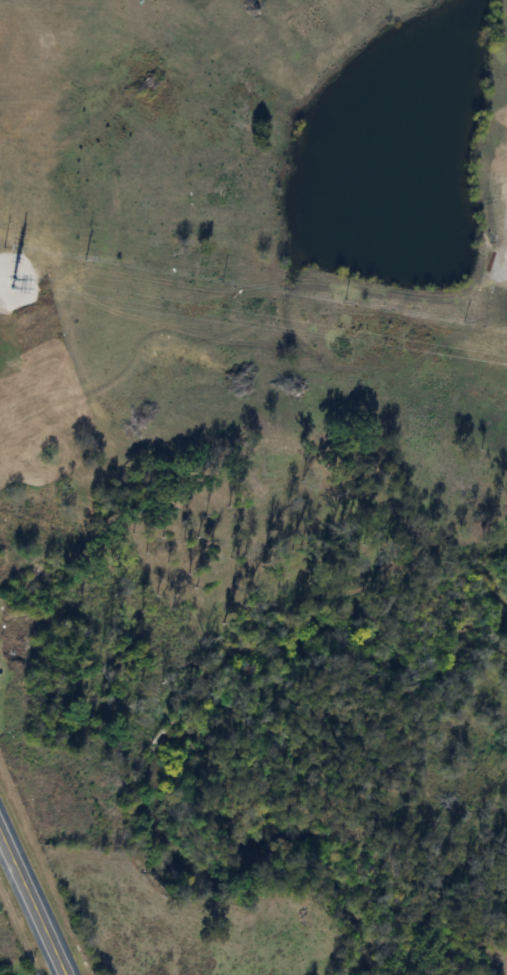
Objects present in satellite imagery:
power tower: (10, 282)
road: (32, 900)

